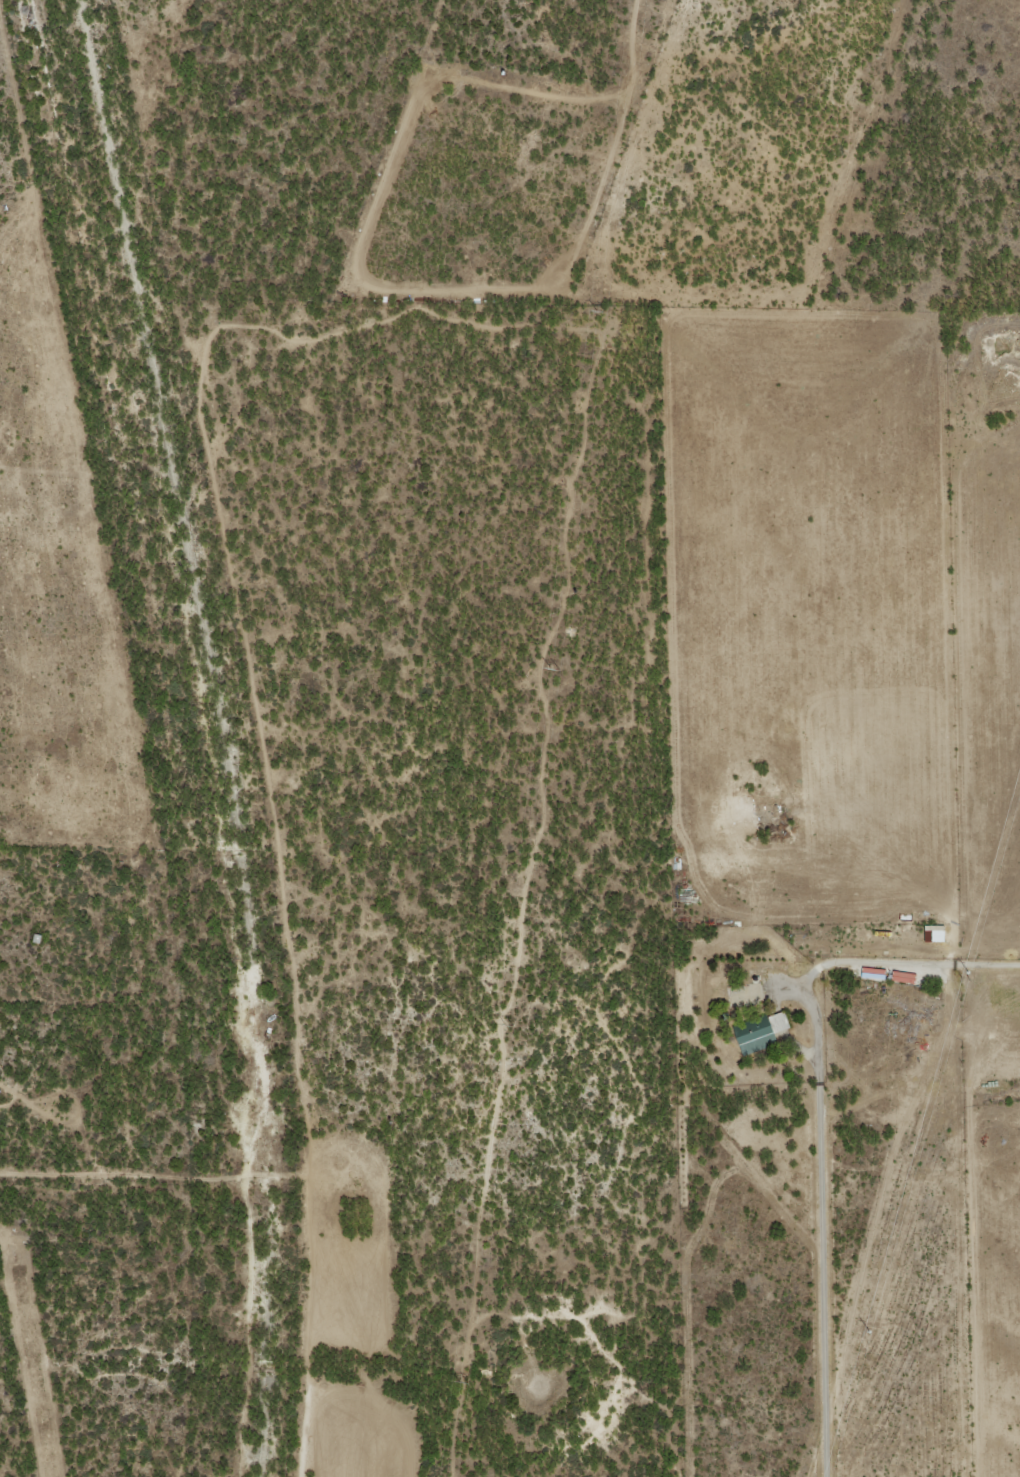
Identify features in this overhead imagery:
power tower: (604, 305)
power tower: (561, 667)
railway: (219, 732)
building: (935, 935)
building: (872, 973)
building: (902, 976)
power tower: (962, 979)
power tower: (515, 1024)
building: (757, 1030)
road: (817, 1111)
road: (246, 1212)
power tower: (865, 1327)
power tower: (469, 1381)

